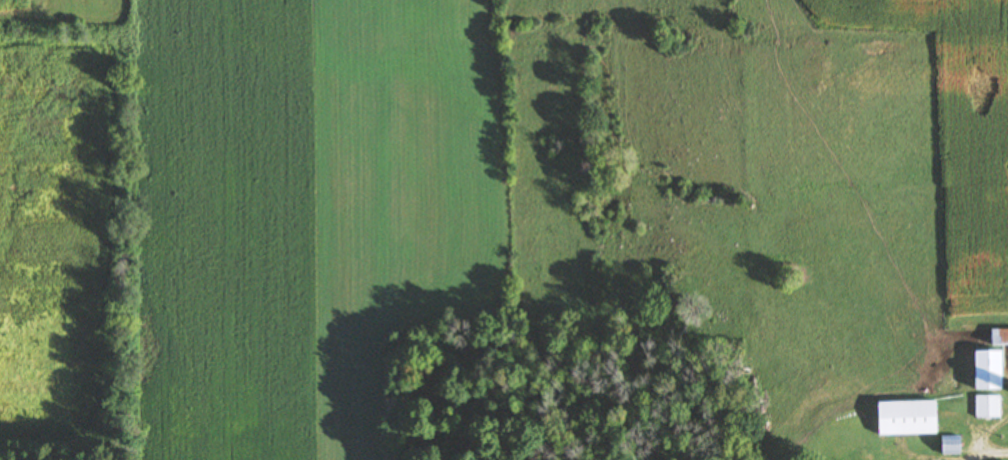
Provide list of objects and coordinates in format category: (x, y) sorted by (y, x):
road: (965, 43)
building: (1001, 338)
road: (934, 364)
building: (992, 371)
building: (989, 407)
building: (911, 419)

